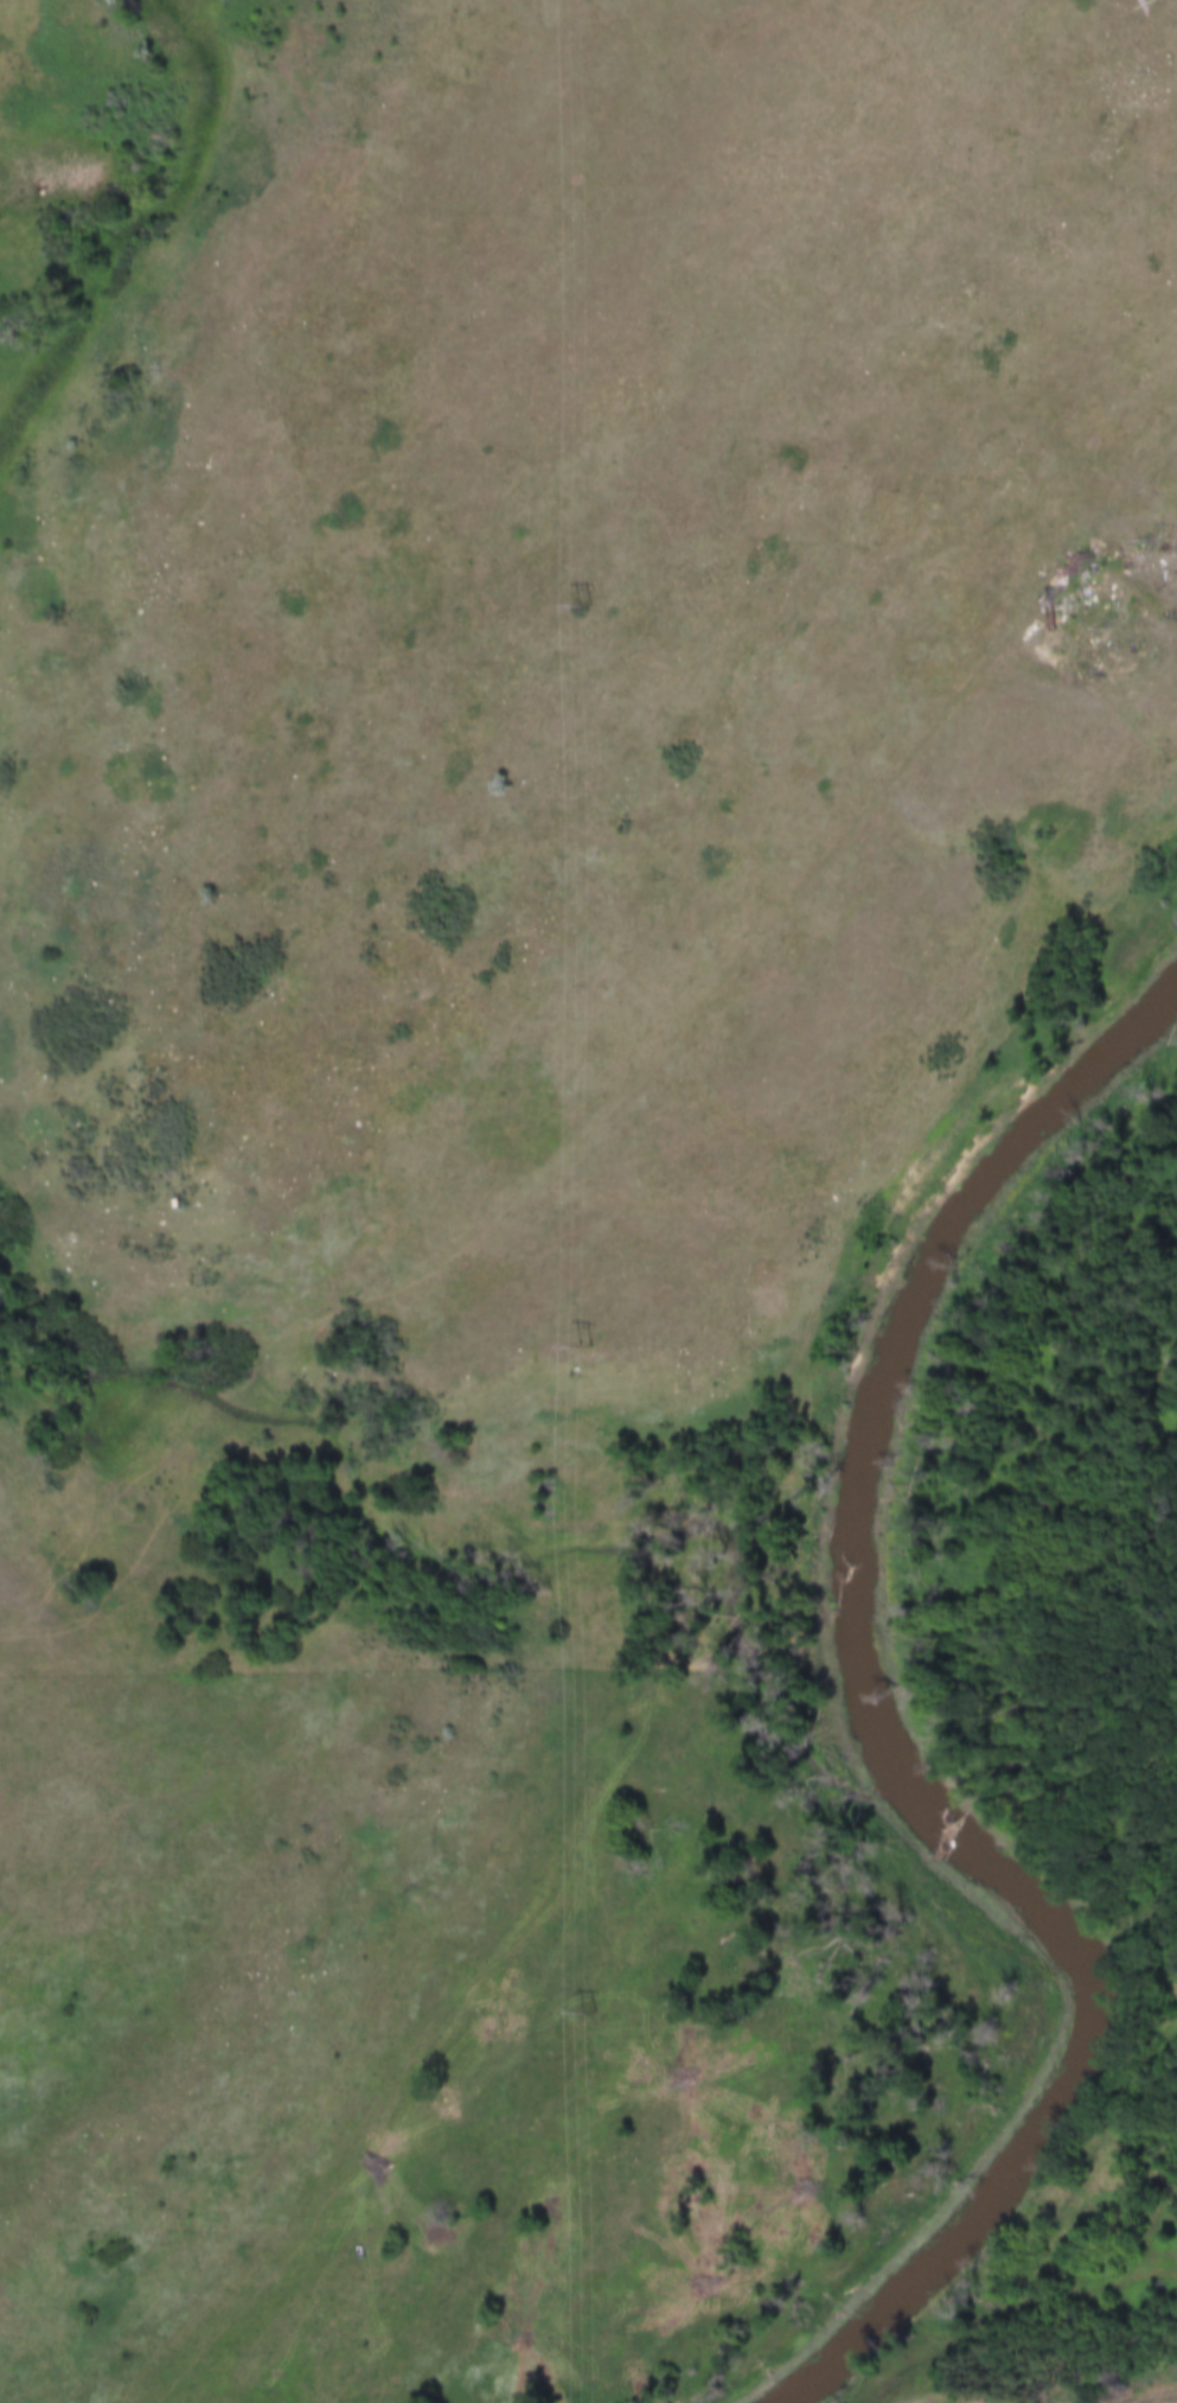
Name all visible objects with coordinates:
power tower: (584, 606)
power tower: (586, 1346)
river: (869, 1738)
power tower: (584, 2010)

